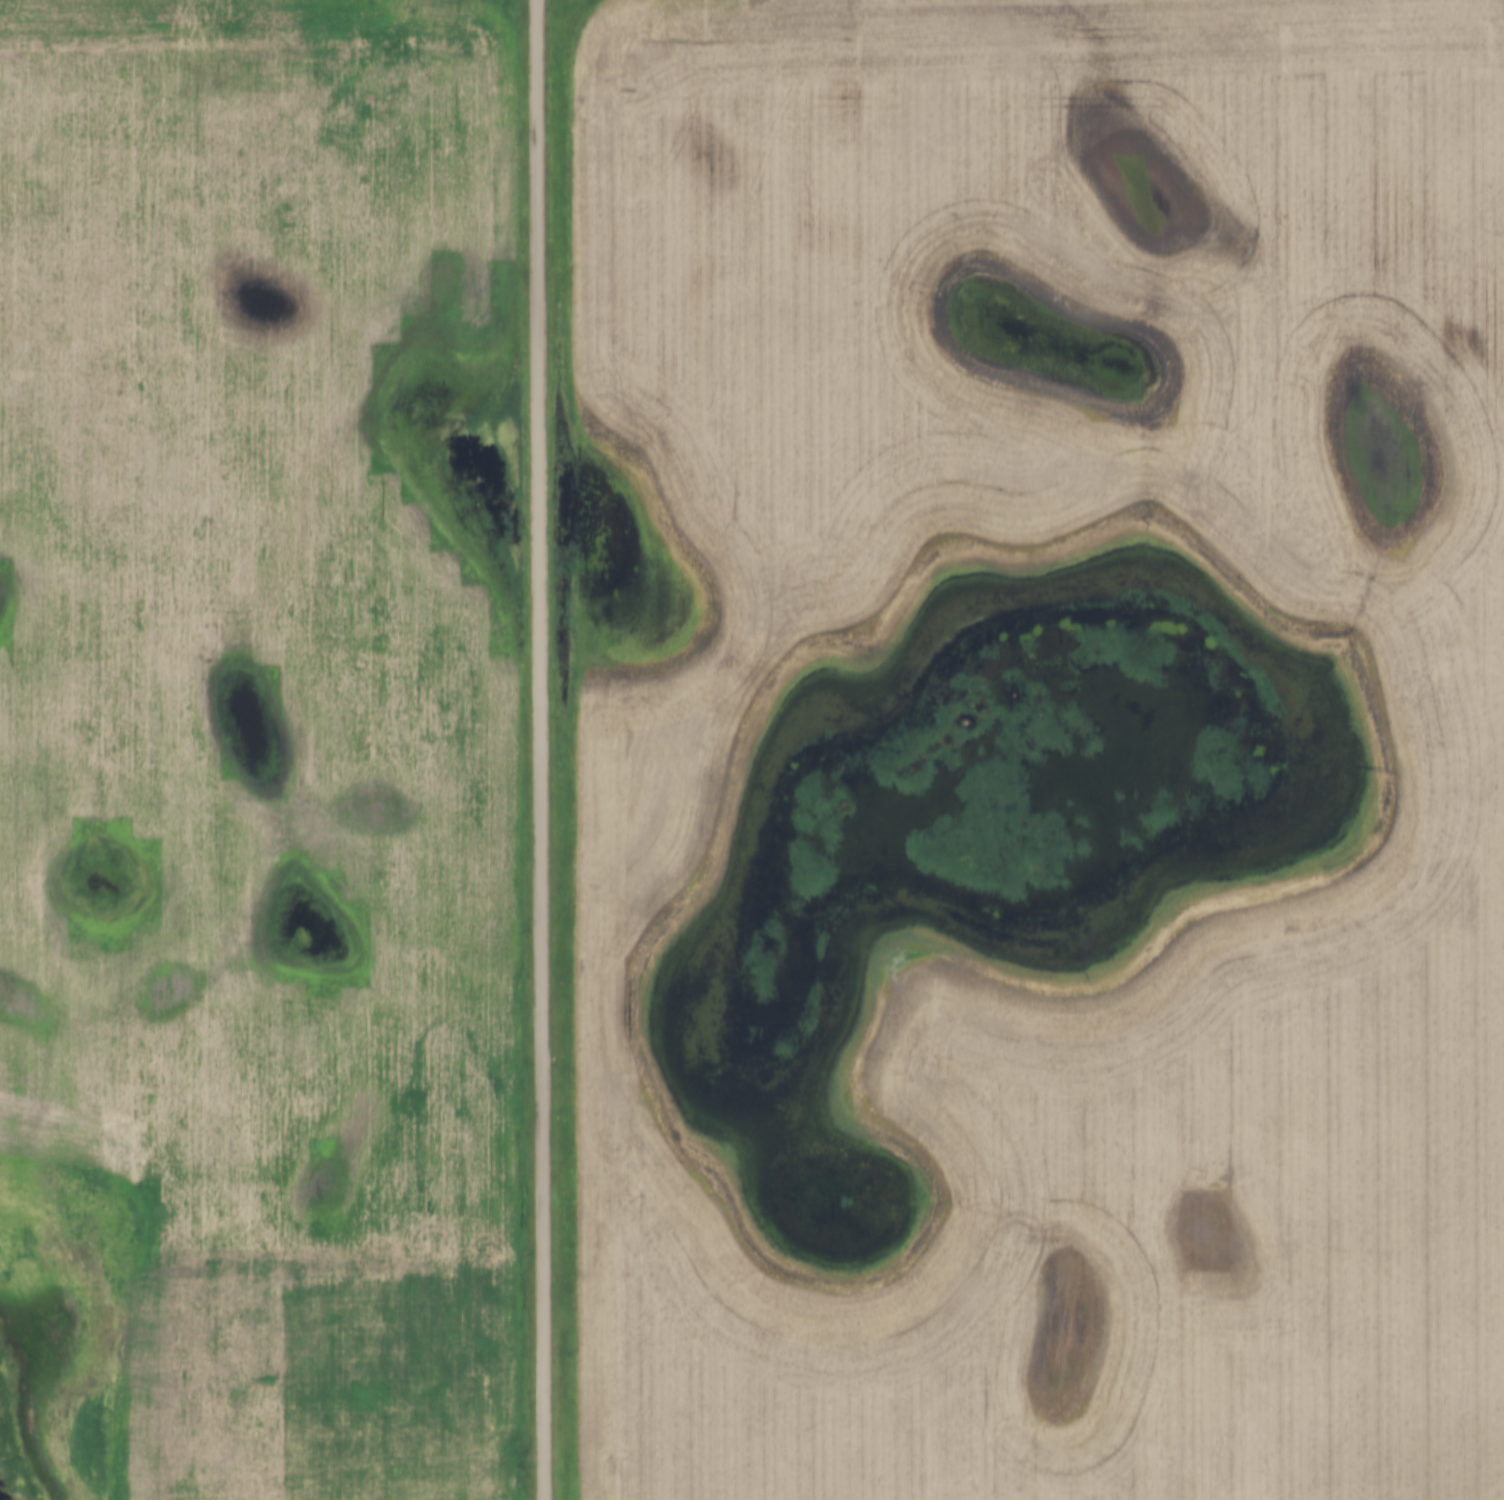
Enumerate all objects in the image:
road: (119, 1)
road: (406, 2)
road: (535, 750)

